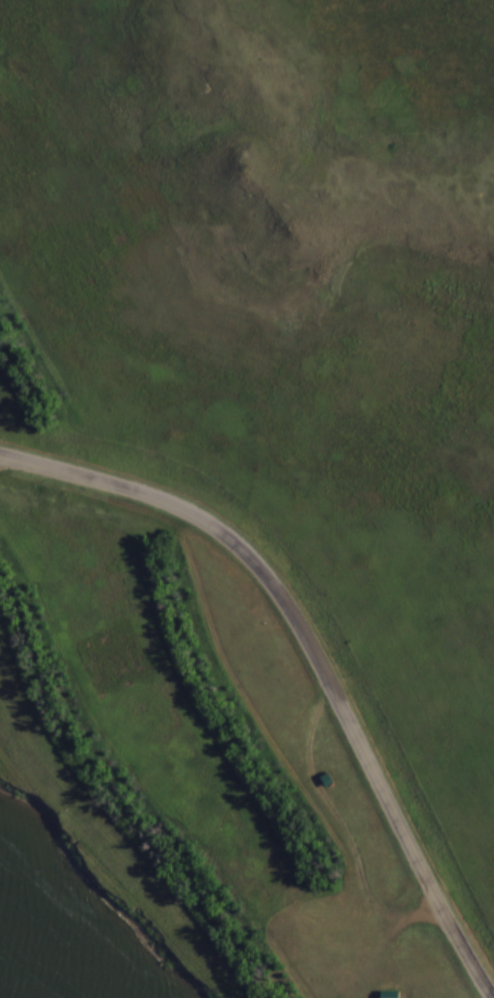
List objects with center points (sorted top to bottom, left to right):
road: (490, 2)
road: (313, 652)
building: (327, 779)
road: (108, 873)
building: (390, 994)

